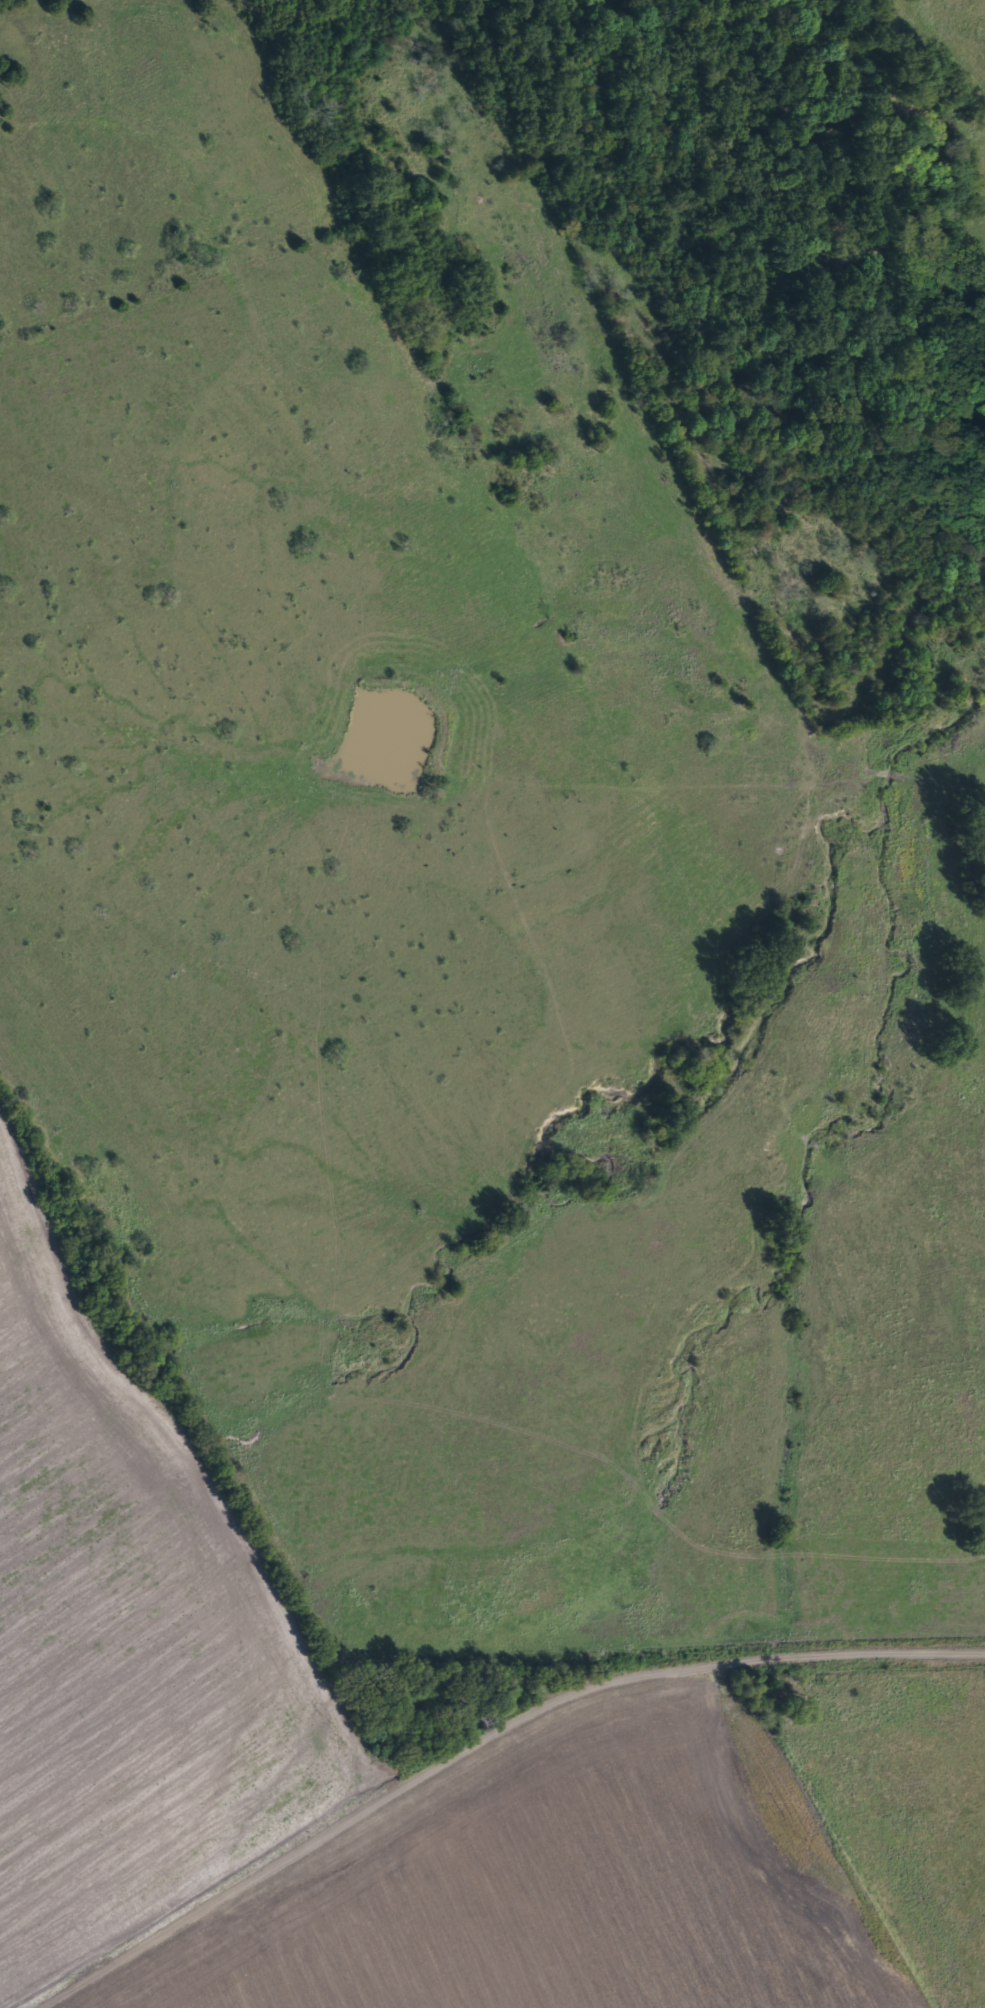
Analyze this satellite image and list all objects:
road: (471, 1740)
road: (322, 1951)

